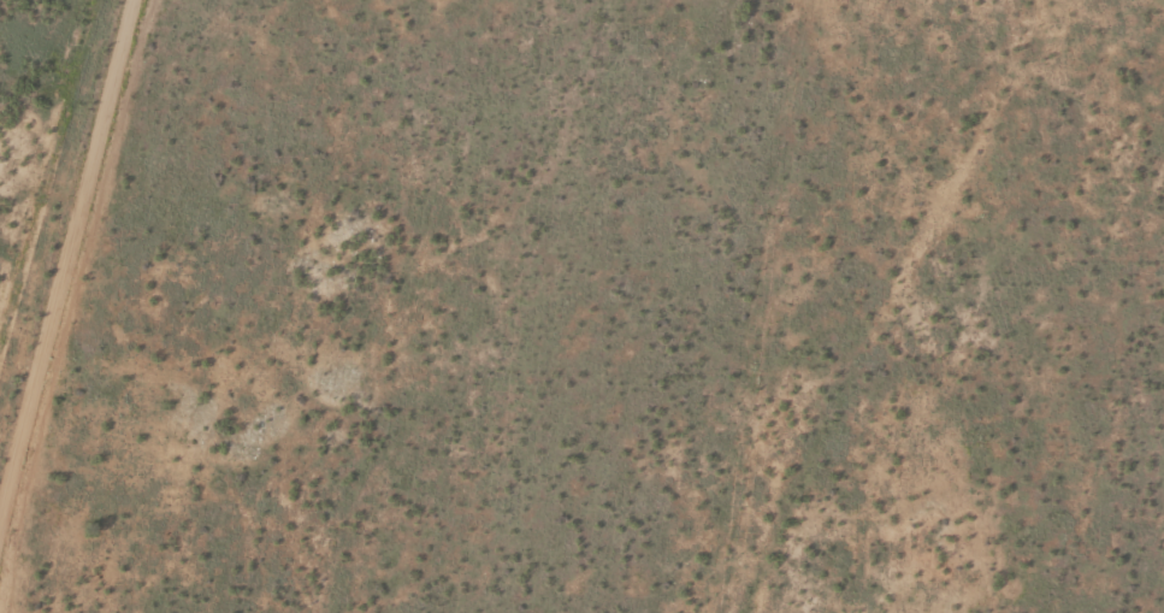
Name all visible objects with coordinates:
road: (48, 238)

